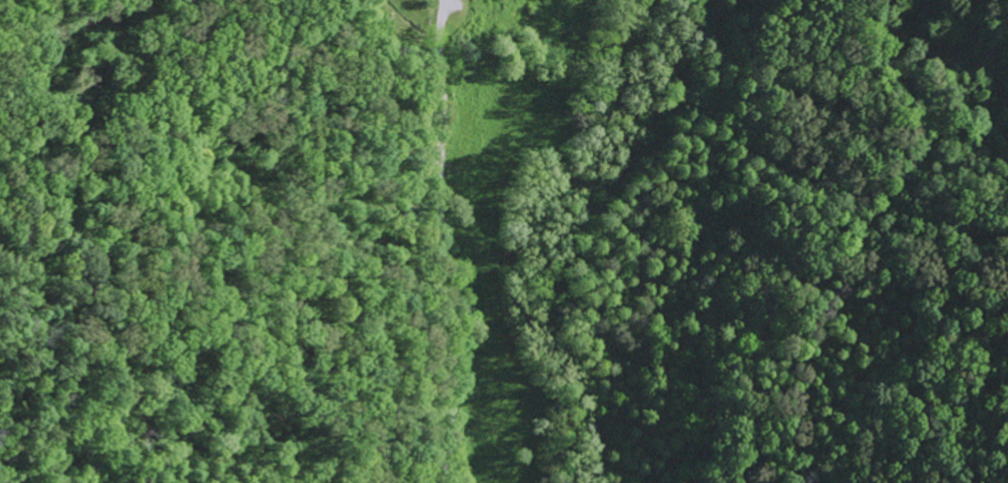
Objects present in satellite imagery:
road: (451, 241)

